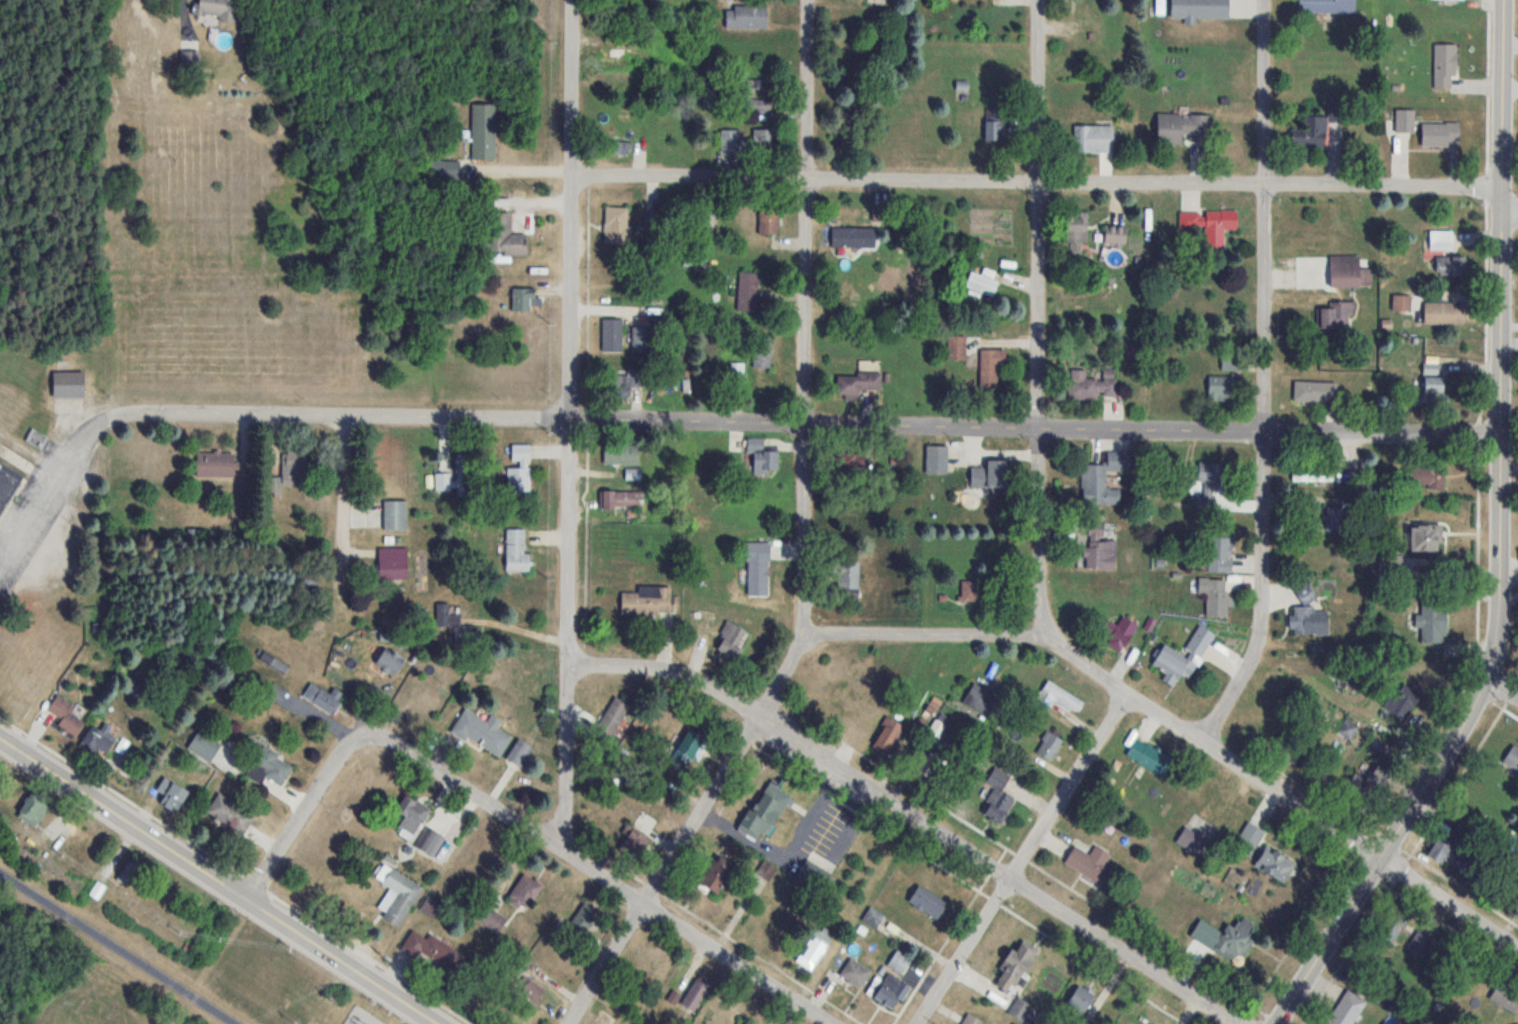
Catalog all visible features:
building: (1452, 0)
building: (1327, 4)
building: (216, 9)
building: (1198, 9)
building: (745, 16)
building: (613, 54)
building: (189, 60)
building: (1444, 65)
road: (1503, 93)
building: (709, 96)
building: (759, 105)
building: (1404, 120)
building: (994, 124)
building: (1180, 127)
building: (482, 130)
building: (1310, 133)
building: (1440, 133)
building: (1093, 138)
building: (745, 141)
building: (624, 148)
building: (444, 168)
road: (1037, 178)
road: (1510, 210)
building: (708, 218)
building: (767, 220)
building: (1210, 224)
building: (615, 225)
building: (1074, 229)
building: (1114, 233)
building: (502, 235)
building: (852, 237)
building: (1440, 240)
building: (1450, 265)
building: (1344, 271)
building: (982, 282)
building: (747, 291)
building: (522, 299)
building: (1401, 303)
building: (1443, 313)
building: (1336, 315)
road: (805, 320)
road: (1038, 320)
building: (611, 334)
building: (640, 338)
building: (956, 348)
building: (761, 352)
building: (990, 367)
building: (736, 372)
road: (1265, 377)
building: (67, 384)
building: (620, 384)
building: (856, 384)
building: (1091, 384)
building: (1221, 388)
building: (1436, 390)
building: (1315, 391)
road: (804, 421)
road: (569, 422)
building: (620, 454)
building: (762, 456)
building: (935, 459)
building: (848, 462)
building: (293, 463)
building: (214, 464)
building: (518, 470)
building: (1312, 474)
building: (988, 475)
building: (1425, 477)
building: (1103, 478)
building: (8, 483)
road: (49, 484)
building: (1207, 484)
road: (342, 498)
building: (621, 499)
building: (394, 515)
building: (1334, 518)
building: (1424, 538)
building: (1098, 548)
building: (516, 551)
building: (1220, 553)
building: (392, 563)
building: (757, 567)
building: (847, 575)
building: (972, 590)
building: (1303, 590)
building: (1217, 597)
building: (646, 601)
building: (1308, 620)
building: (1432, 622)
building: (454, 624)
building: (1118, 633)
road: (1498, 635)
building: (731, 642)
building: (1183, 656)
building: (389, 661)
road: (1502, 687)
building: (1054, 696)
building: (324, 698)
building: (980, 699)
building: (856, 701)
building: (1402, 701)
building: (65, 716)
building: (609, 722)
road: (1178, 723)
building: (480, 731)
building: (887, 735)
building: (97, 740)
building: (203, 745)
building: (1048, 747)
building: (689, 748)
building: (519, 753)
building: (1148, 756)
building: (1512, 758)
building: (269, 767)
building: (1380, 777)
building: (997, 797)
building: (171, 800)
building: (32, 809)
building: (763, 812)
road: (302, 813)
building: (410, 813)
building: (230, 814)
road: (914, 815)
road: (686, 833)
building: (1249, 839)
building: (1190, 840)
building: (431, 843)
building: (635, 843)
building: (1439, 849)
road: (1022, 858)
building: (1087, 860)
building: (1273, 863)
building: (766, 871)
building: (127, 872)
road: (599, 874)
building: (714, 874)
road: (219, 880)
building: (396, 893)
building: (523, 893)
building: (927, 901)
building: (872, 916)
building: (581, 920)
building: (1392, 925)
building: (1229, 936)
building: (814, 946)
road: (117, 948)
building: (432, 950)
building: (898, 961)
building: (1013, 965)
building: (854, 972)
building: (891, 990)
building: (532, 992)
building: (696, 993)
building: (1506, 994)
building: (1079, 998)
building: (1020, 1008)
building: (1346, 1008)
power substation: (360, 1017)
building: (971, 1019)
building: (746, 1022)

